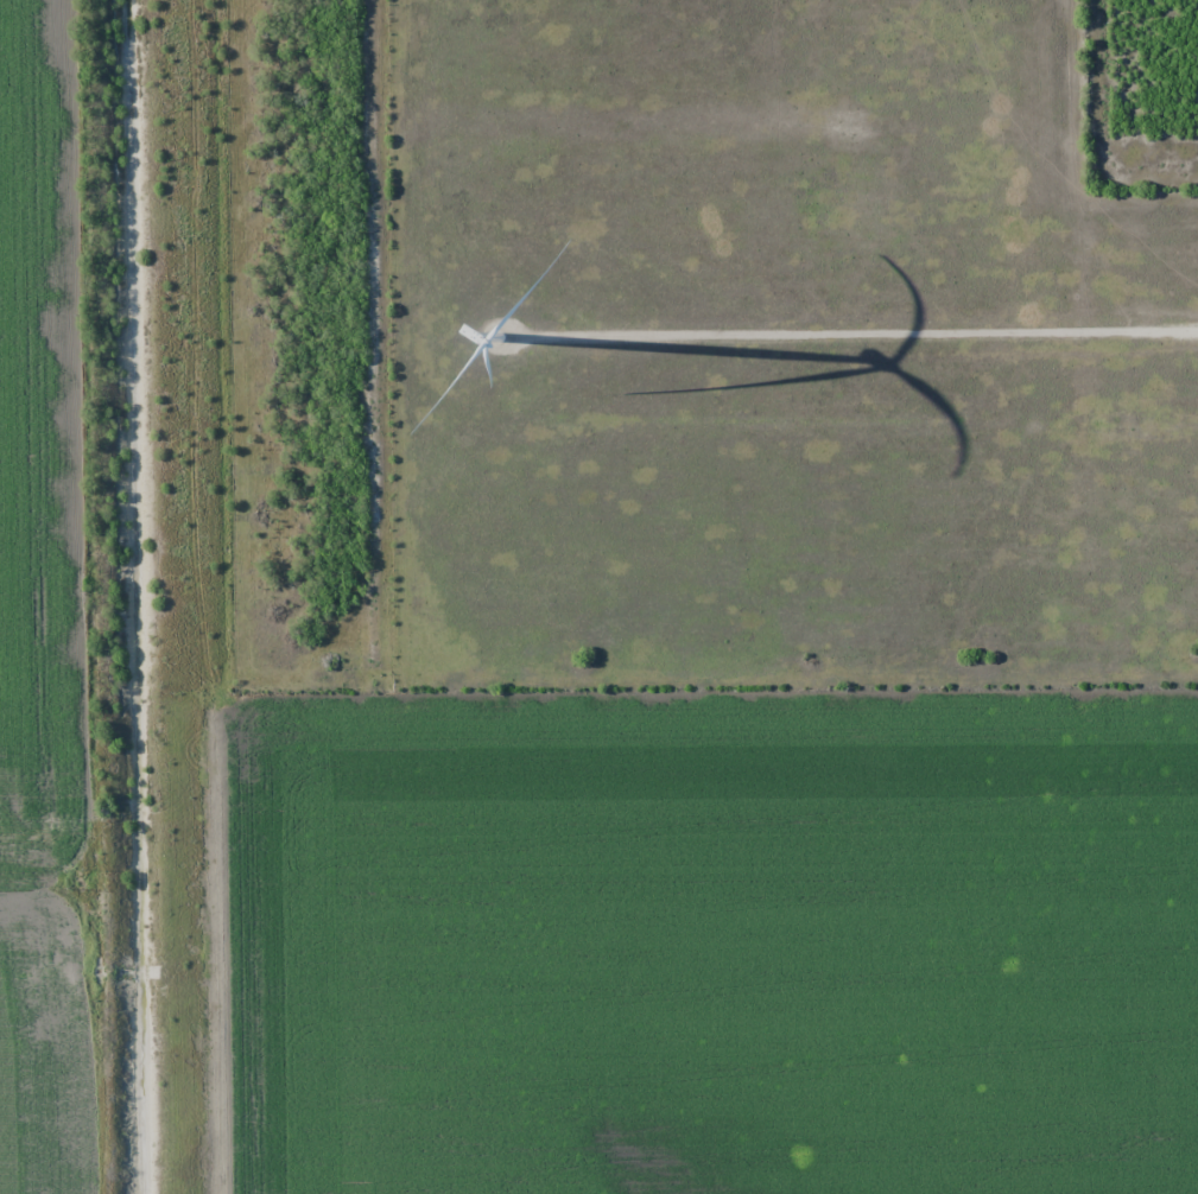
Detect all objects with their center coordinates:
wind turbine: (506, 336)
road: (376, 597)

